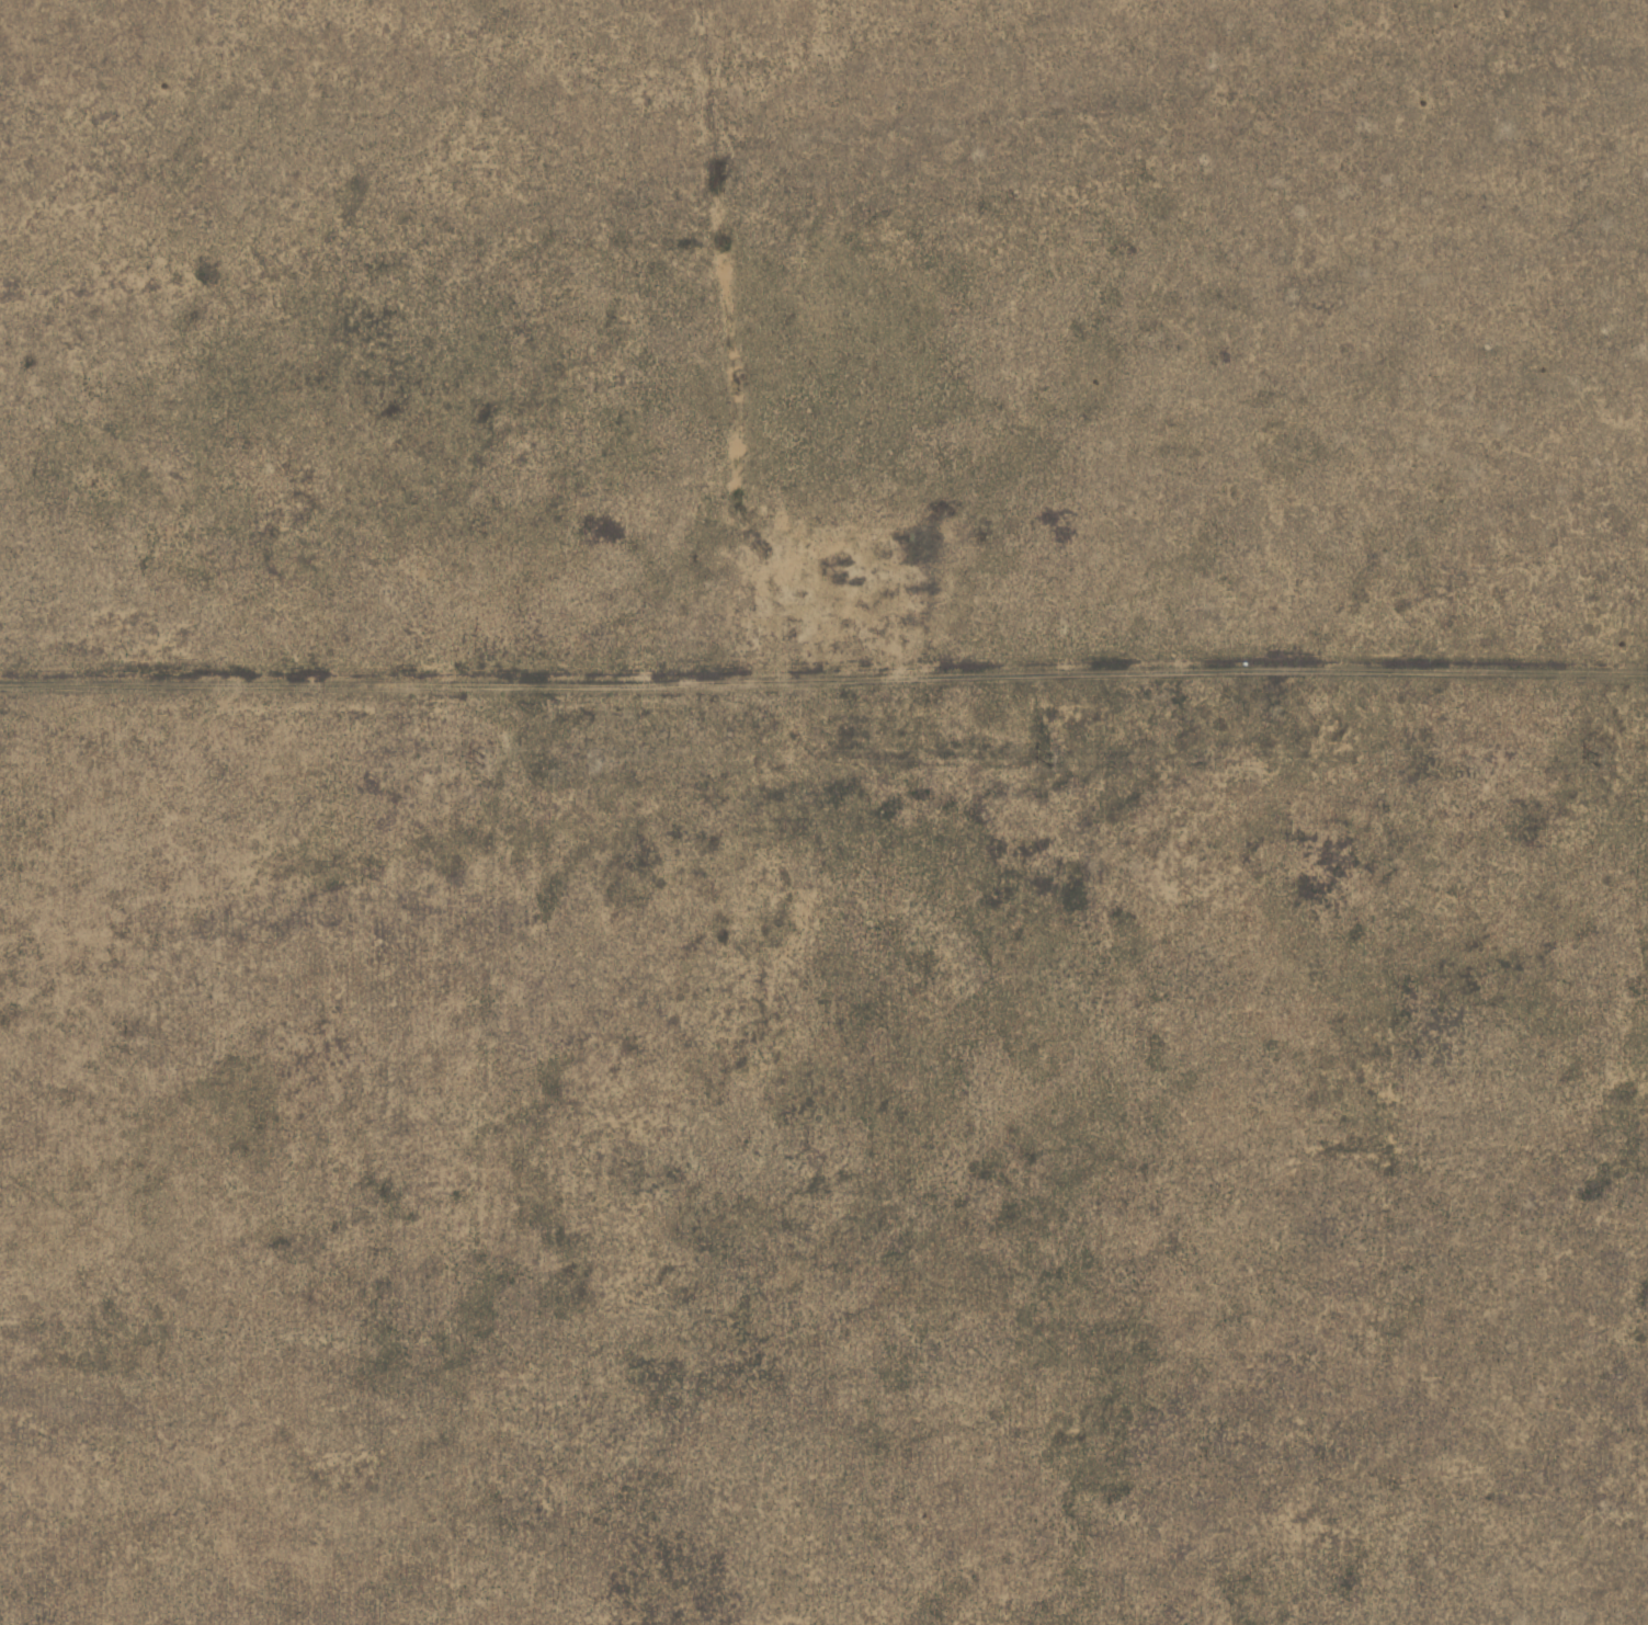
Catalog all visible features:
power tower: (1594, 759)
power tower: (1048, 760)
power tower: (482, 762)

